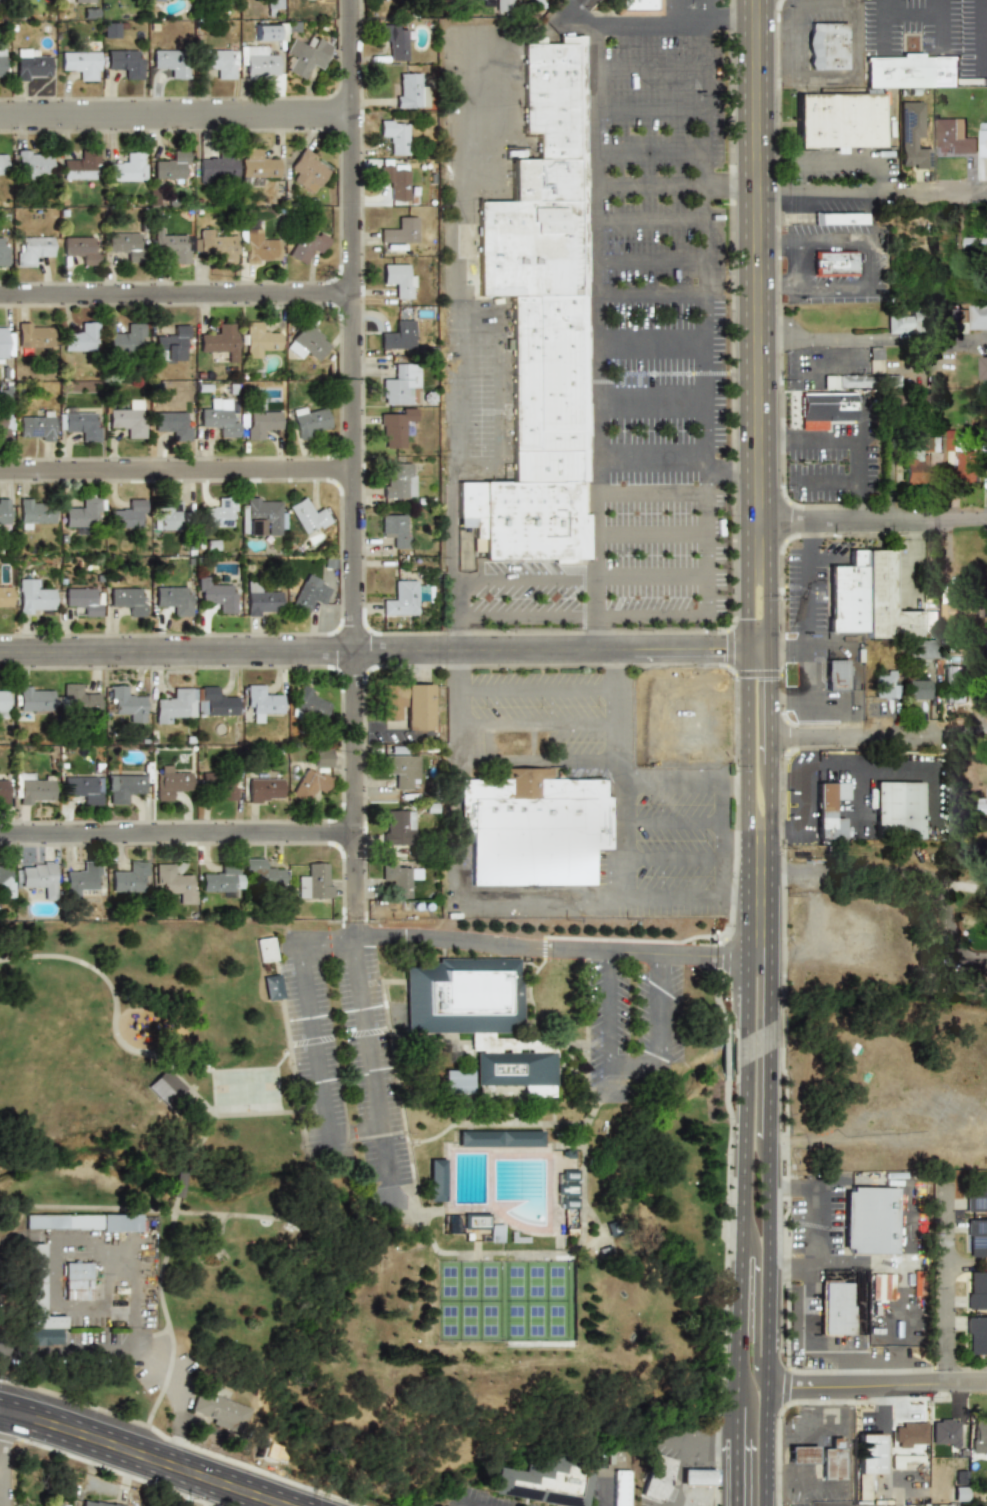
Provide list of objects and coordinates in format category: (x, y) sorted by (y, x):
building: (381, 0)
building: (83, 1)
road: (846, 2)
building: (502, 4)
road: (823, 5)
road: (887, 5)
building: (273, 6)
building: (635, 7)
road: (705, 10)
road: (912, 10)
road: (679, 11)
road: (728, 20)
road: (649, 22)
road: (937, 26)
building: (111, 29)
road: (881, 29)
building: (264, 32)
road: (978, 36)
building: (395, 40)
road: (788, 40)
road: (857, 41)
building: (827, 46)
building: (306, 54)
building: (125, 62)
building: (171, 62)
building: (218, 62)
building: (2, 63)
building: (81, 63)
building: (259, 63)
building: (31, 65)
road: (649, 69)
building: (911, 70)
road: (822, 76)
road: (451, 86)
building: (410, 87)
road: (650, 110)
road: (173, 113)
building: (838, 120)
building: (395, 135)
building: (953, 135)
building: (912, 136)
building: (984, 140)
road: (886, 145)
road: (649, 151)
road: (840, 158)
building: (2, 163)
building: (31, 164)
building: (80, 165)
building: (171, 166)
building: (255, 166)
building: (218, 167)
building: (127, 168)
building: (308, 170)
road: (794, 179)
building: (396, 182)
road: (672, 187)
road: (868, 197)
building: (838, 218)
road: (649, 221)
building: (400, 231)
building: (123, 244)
building: (216, 245)
road: (769, 245)
road: (829, 245)
building: (307, 246)
building: (78, 247)
building: (171, 247)
building: (259, 248)
building: (977, 248)
building: (31, 249)
building: (2, 250)
road: (649, 259)
road: (752, 259)
building: (835, 263)
road: (872, 266)
building: (398, 280)
road: (769, 288)
road: (829, 288)
road: (650, 291)
road: (174, 295)
building: (971, 316)
road: (473, 317)
road: (704, 317)
building: (539, 320)
building: (904, 322)
building: (33, 334)
road: (595, 335)
building: (398, 336)
road: (649, 336)
building: (79, 338)
building: (126, 339)
building: (257, 339)
road: (870, 339)
building: (219, 340)
building: (4, 342)
building: (307, 342)
building: (171, 344)
building: (875, 360)
building: (984, 368)
building: (852, 381)
building: (396, 386)
road: (649, 390)
road: (452, 394)
road: (496, 394)
building: (826, 406)
building: (218, 418)
building: (128, 419)
building: (309, 421)
building: (260, 423)
building: (78, 424)
building: (172, 424)
building: (2, 426)
building: (33, 427)
building: (395, 427)
road: (771, 441)
road: (823, 441)
road: (649, 453)
building: (917, 461)
road: (861, 462)
building: (965, 463)
road: (349, 467)
road: (175, 470)
road: (475, 472)
building: (398, 480)
road: (826, 483)
road: (649, 494)
building: (3, 511)
building: (32, 512)
building: (82, 512)
building: (219, 512)
building: (308, 516)
building: (124, 517)
building: (165, 517)
building: (261, 517)
road: (872, 519)
building: (396, 529)
road: (809, 534)
road: (649, 539)
road: (452, 542)
road: (577, 578)
road: (745, 582)
road: (768, 583)
building: (215, 595)
building: (846, 595)
building: (308, 596)
building: (33, 597)
building: (5, 598)
building: (406, 598)
building: (127, 599)
building: (173, 599)
building: (83, 600)
building: (261, 600)
building: (885, 600)
road: (577, 613)
building: (962, 613)
road: (809, 623)
building: (932, 624)
building: (986, 647)
road: (371, 648)
building: (921, 649)
road: (755, 650)
road: (788, 651)
road: (832, 651)
road: (650, 667)
road: (700, 668)
road: (745, 670)
building: (835, 673)
road: (768, 675)
road: (854, 675)
building: (883, 684)
building: (953, 684)
road: (537, 685)
road: (681, 686)
building: (918, 689)
building: (35, 698)
building: (78, 700)
road: (781, 700)
road: (824, 700)
building: (312, 701)
building: (3, 702)
building: (215, 702)
building: (260, 702)
building: (127, 703)
road: (457, 703)
building: (407, 704)
building: (176, 705)
road: (537, 719)
road: (878, 732)
building: (321, 757)
road: (537, 760)
road: (863, 765)
building: (400, 770)
road: (617, 773)
road: (669, 782)
road: (785, 782)
building: (170, 783)
road: (734, 783)
building: (221, 785)
building: (308, 785)
building: (84, 787)
building: (124, 787)
building: (3, 789)
building: (31, 789)
building: (263, 790)
road: (858, 793)
road: (800, 794)
road: (931, 795)
building: (981, 806)
building: (829, 809)
building: (897, 809)
road: (669, 824)
building: (398, 827)
building: (533, 827)
road: (777, 827)
road: (792, 827)
road: (176, 830)
road: (722, 840)
road: (669, 858)
road: (904, 870)
building: (3, 871)
building: (262, 873)
building: (36, 876)
building: (83, 876)
building: (129, 877)
building: (400, 877)
building: (220, 880)
building: (314, 880)
building: (173, 882)
road: (958, 884)
road: (669, 898)
road: (734, 898)
road: (465, 900)
road: (351, 943)
road: (298, 945)
road: (522, 946)
building: (265, 949)
road: (606, 956)
road: (758, 956)
road: (659, 958)
building: (272, 987)
building: (461, 995)
road: (607, 1014)
road: (660, 1017)
road: (316, 1056)
road: (155, 1058)
road: (370, 1067)
building: (512, 1067)
road: (632, 1068)
building: (456, 1081)
building: (165, 1087)
road: (745, 1098)
road: (768, 1102)
road: (206, 1125)
building: (498, 1138)
park: (368, 1180)
building: (434, 1180)
building: (175, 1185)
road: (799, 1186)
road: (177, 1188)
building: (976, 1193)
road: (210, 1213)
building: (869, 1220)
building: (80, 1222)
building: (484, 1227)
road: (224, 1230)
road: (830, 1234)
building: (976, 1238)
road: (787, 1270)
building: (75, 1280)
building: (881, 1286)
building: (976, 1290)
road: (937, 1291)
park: (505, 1300)
building: (36, 1302)
building: (837, 1308)
road: (807, 1314)
road: (168, 1321)
building: (976, 1335)
road: (116, 1351)
road: (853, 1358)
road: (876, 1389)
building: (219, 1411)
building: (944, 1432)
building: (909, 1434)
building: (978, 1436)
road: (161, 1450)
road: (678, 1450)
building: (800, 1454)
building: (905, 1459)
building: (832, 1461)
road: (125, 1462)
building: (867, 1462)
road: (2, 1463)
building: (696, 1476)
building: (657, 1477)
building: (542, 1480)
road: (598, 1483)
road: (150, 1488)
building: (621, 1488)
road: (222, 1501)
building: (97, 1503)
building: (51, 1504)
road: (462, 1504)

